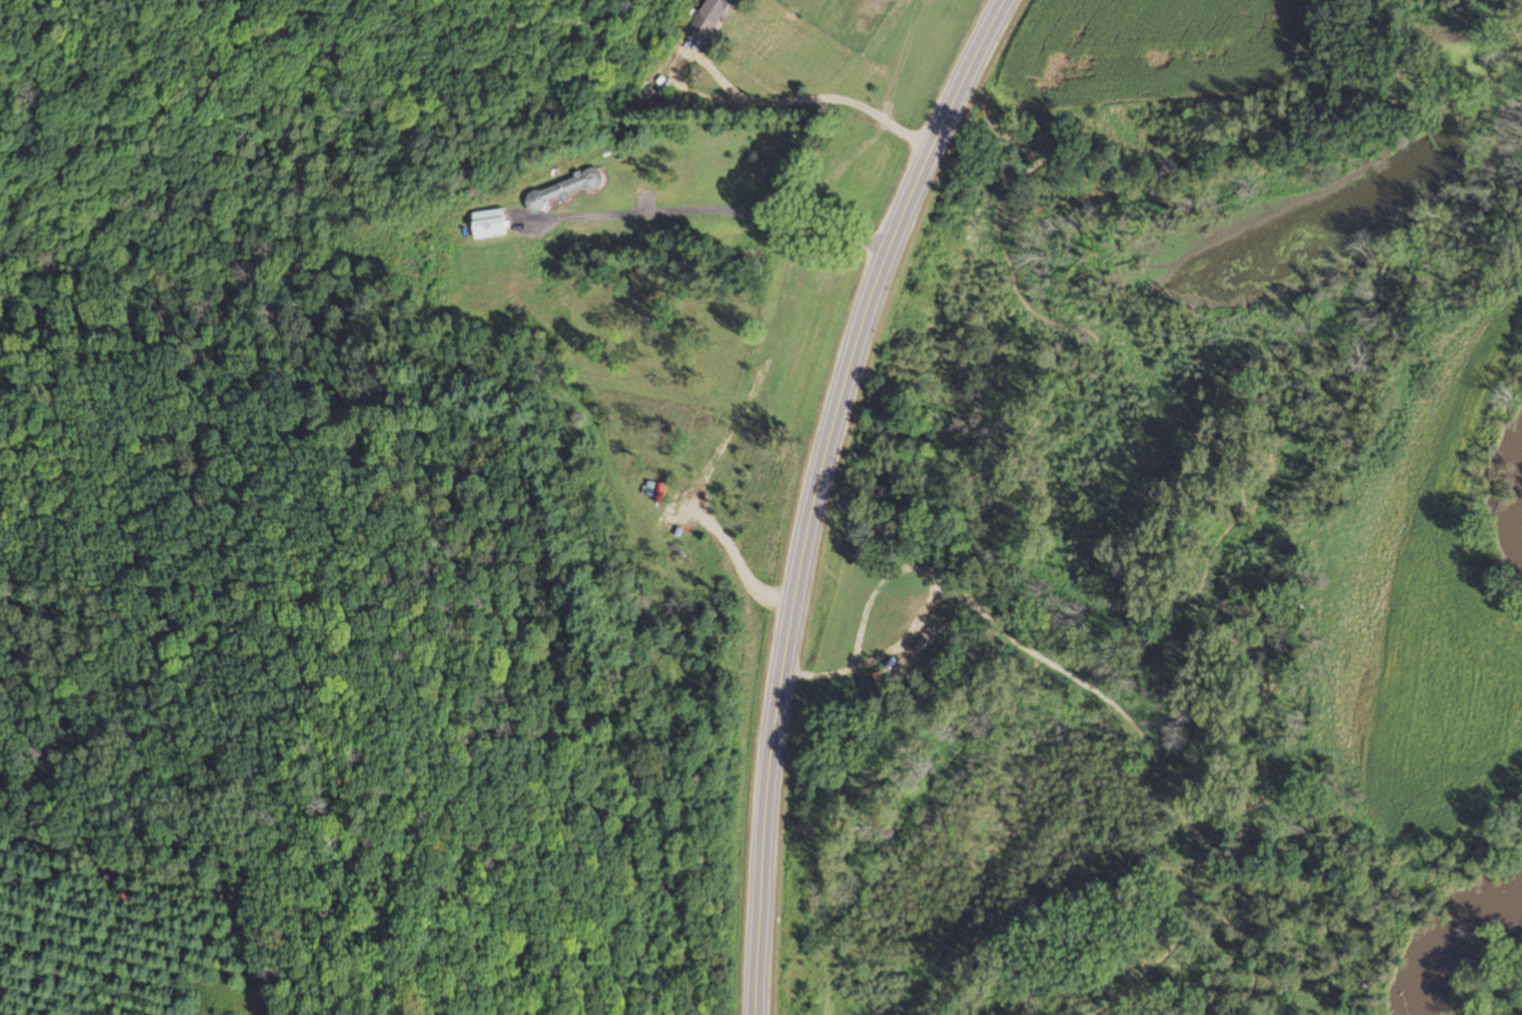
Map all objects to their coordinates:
building: (707, 17)
road: (754, 102)
building: (562, 190)
building: (488, 224)
river: (1519, 473)
road: (816, 490)
river: (1449, 931)

